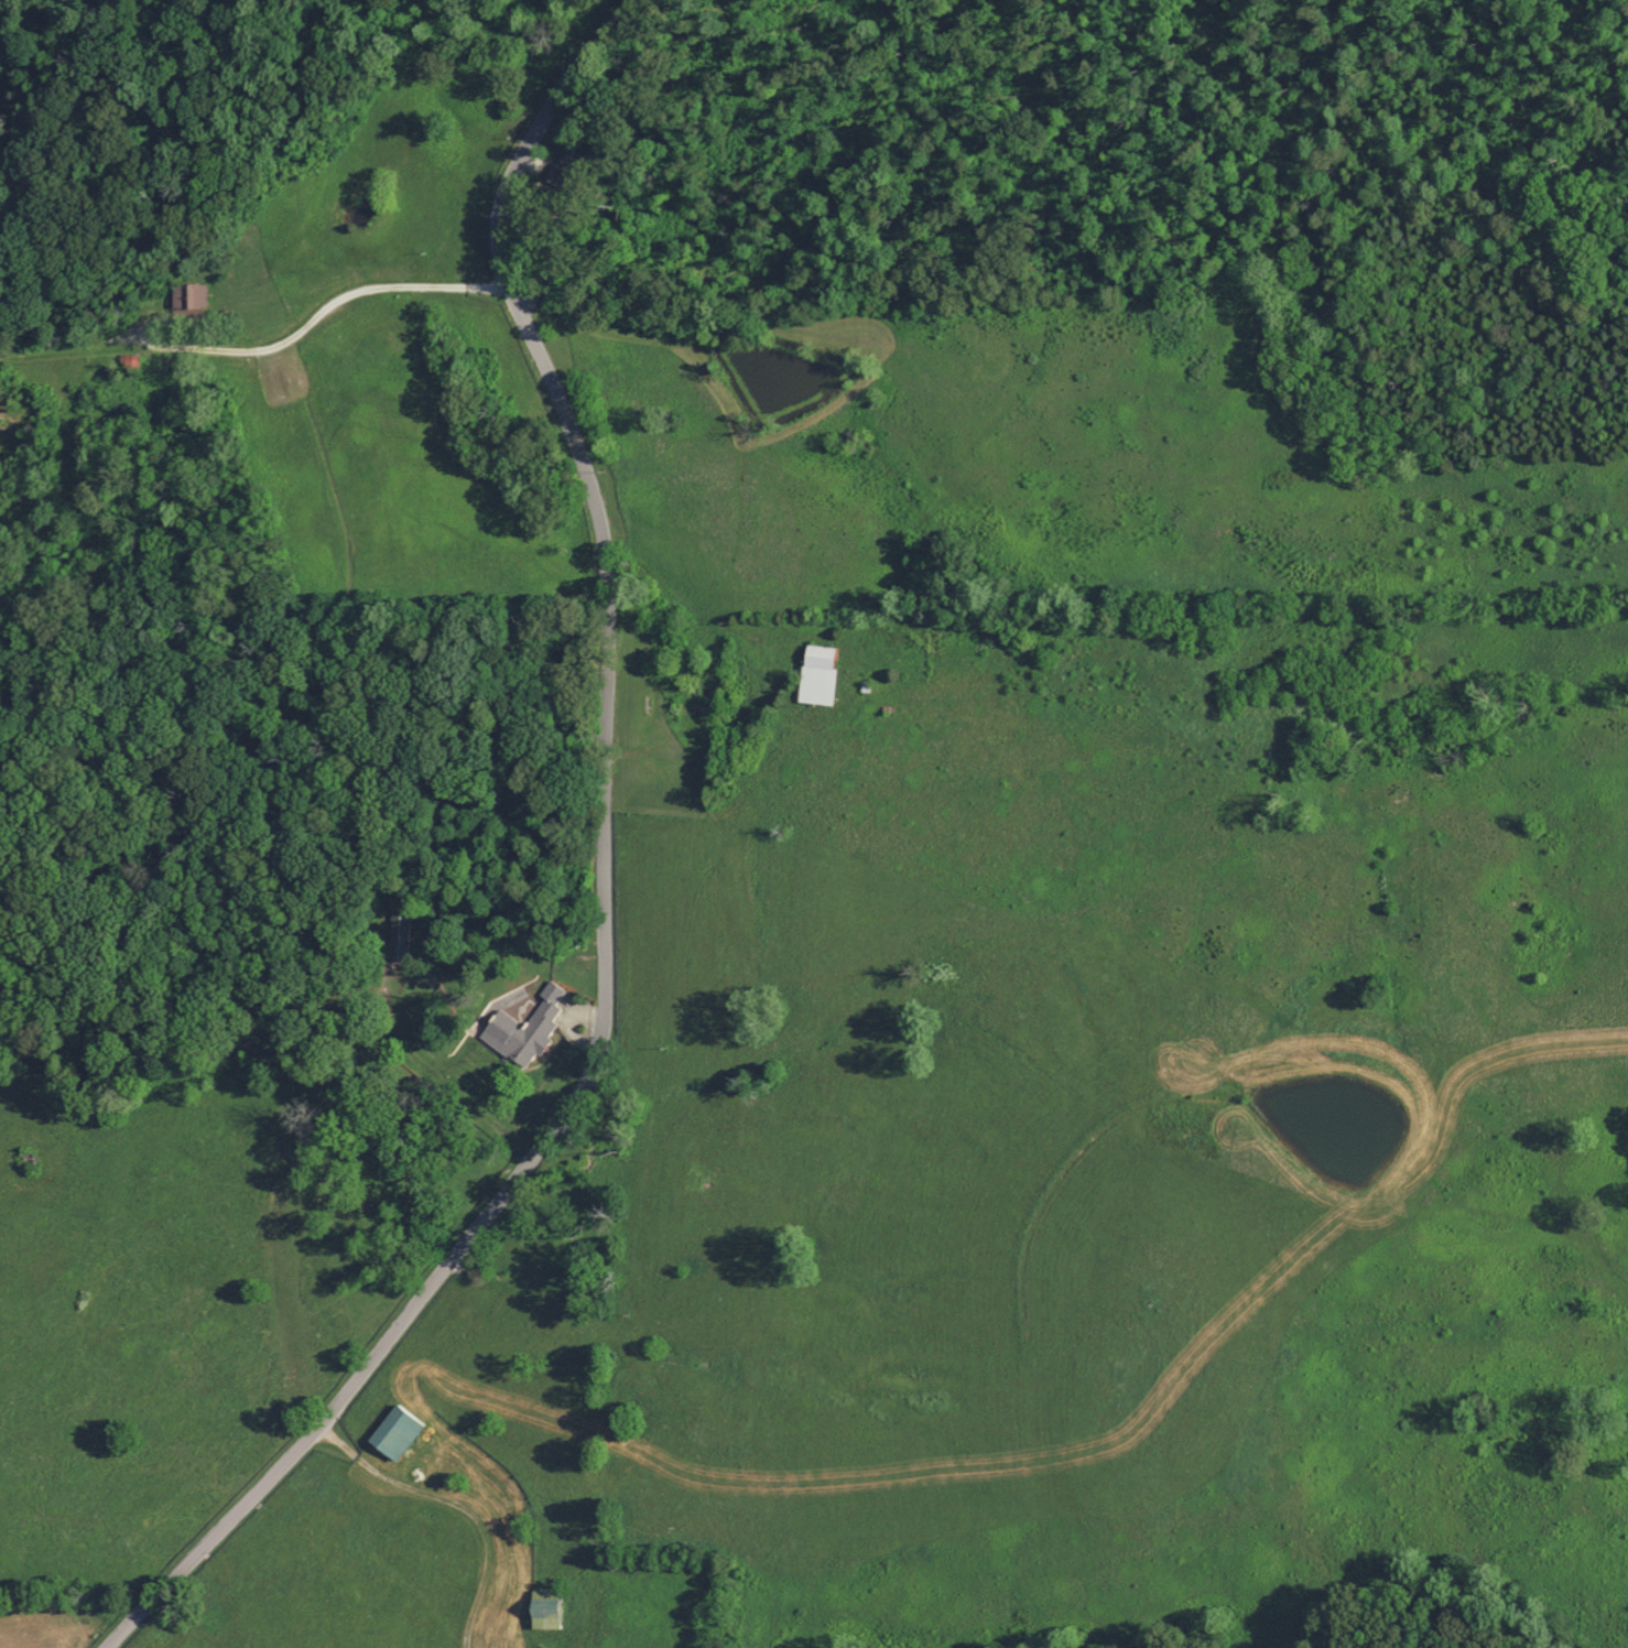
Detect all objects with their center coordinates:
building: (187, 296)
road: (257, 316)
road: (536, 340)
road: (995, 632)
building: (816, 657)
building: (398, 933)
building: (522, 1027)
road: (473, 1230)
building: (393, 1431)
road: (481, 1461)
building: (543, 1608)

